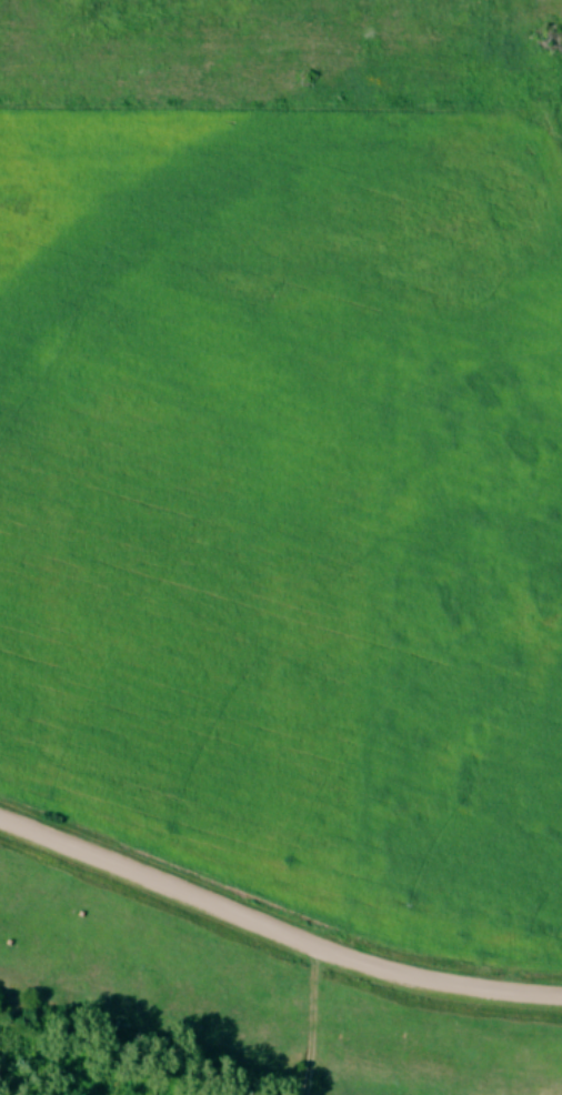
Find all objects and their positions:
road: (277, 926)

